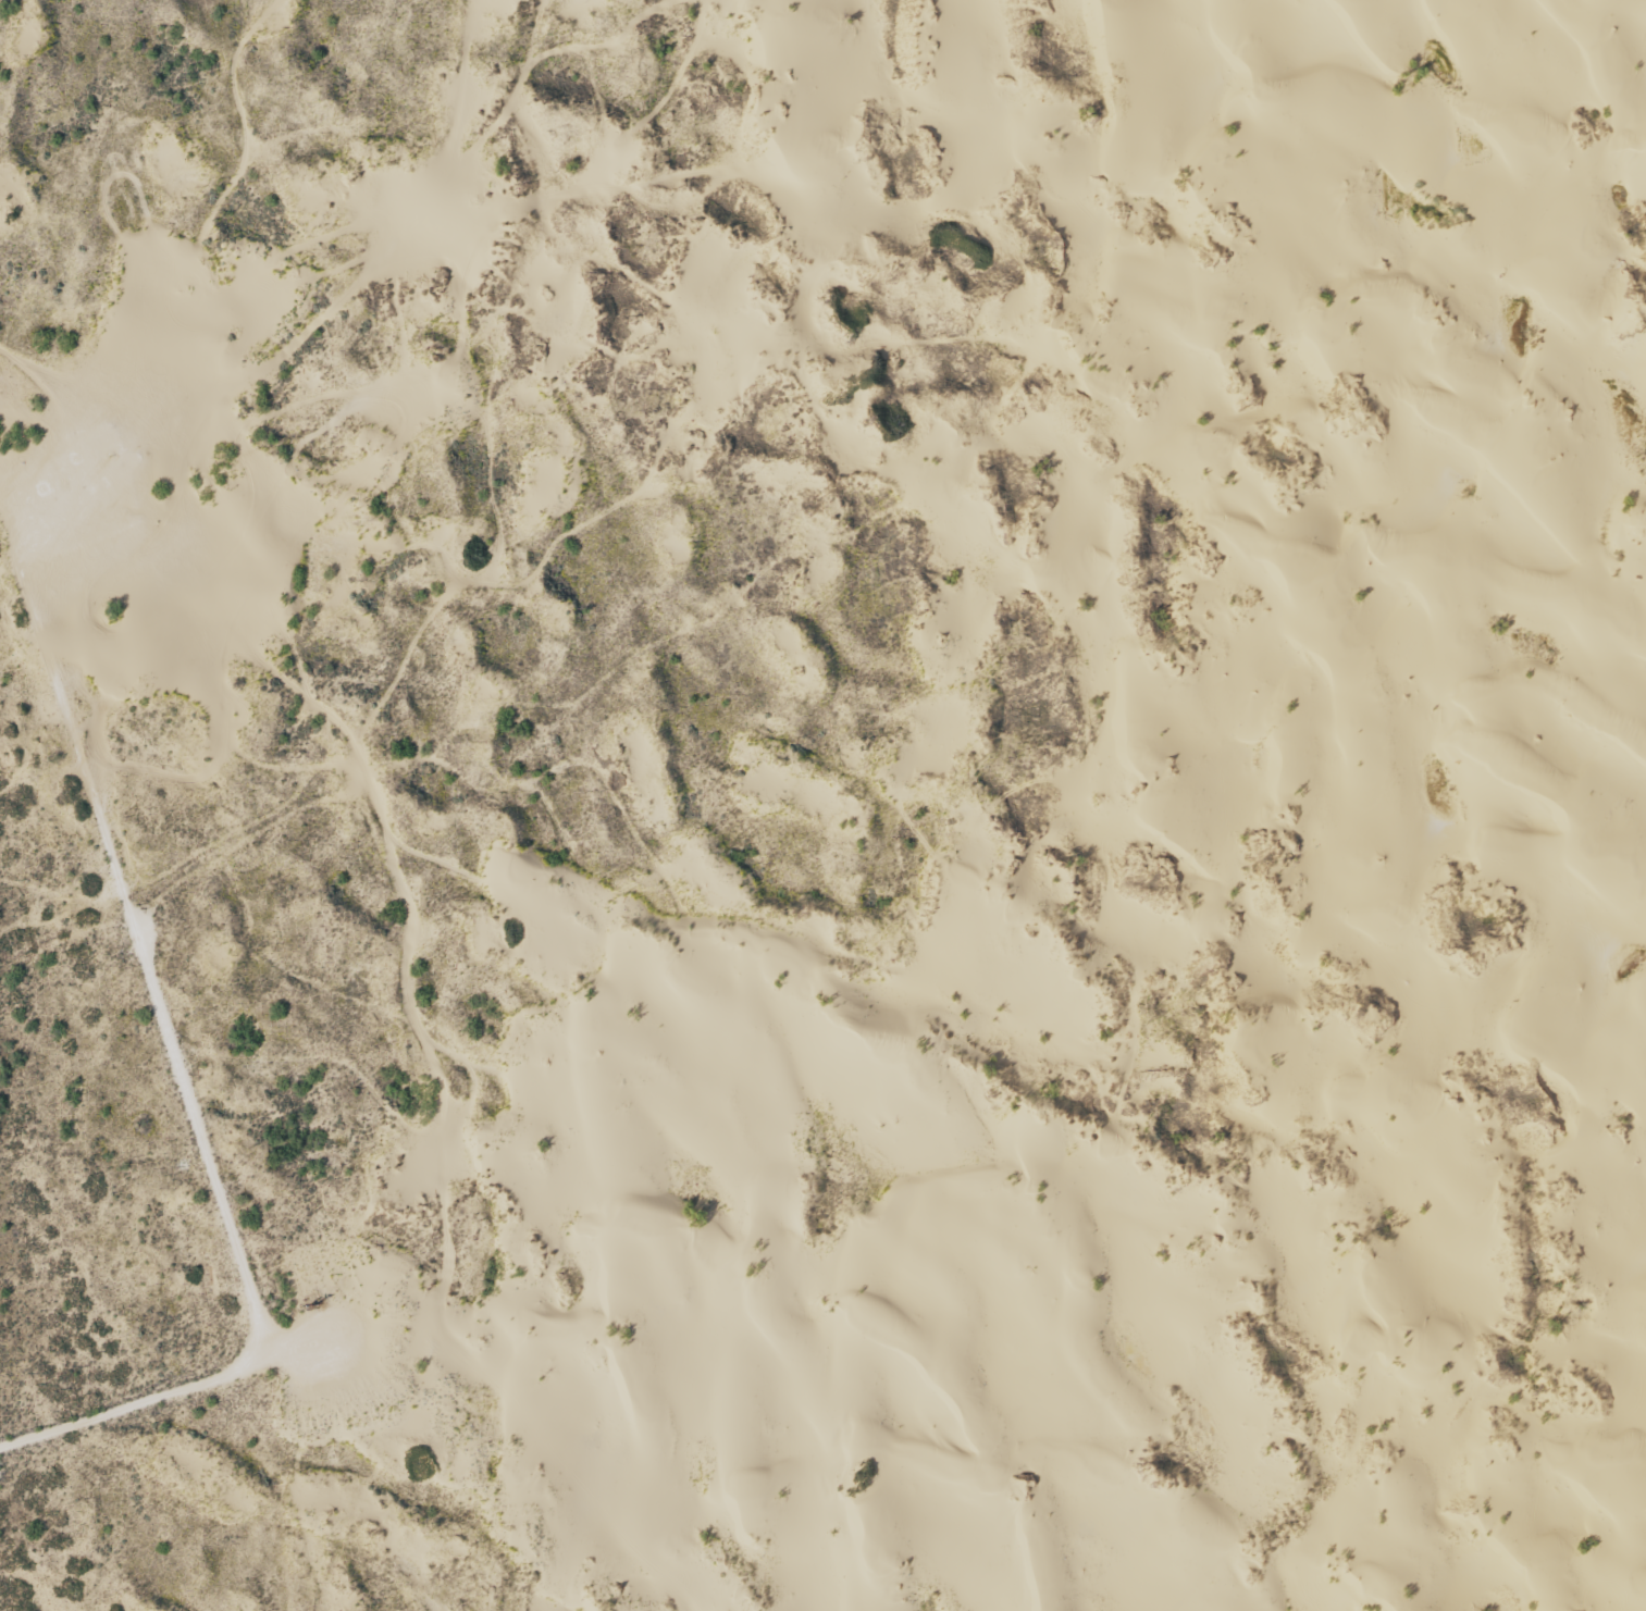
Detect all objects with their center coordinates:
road: (135, 1397)

